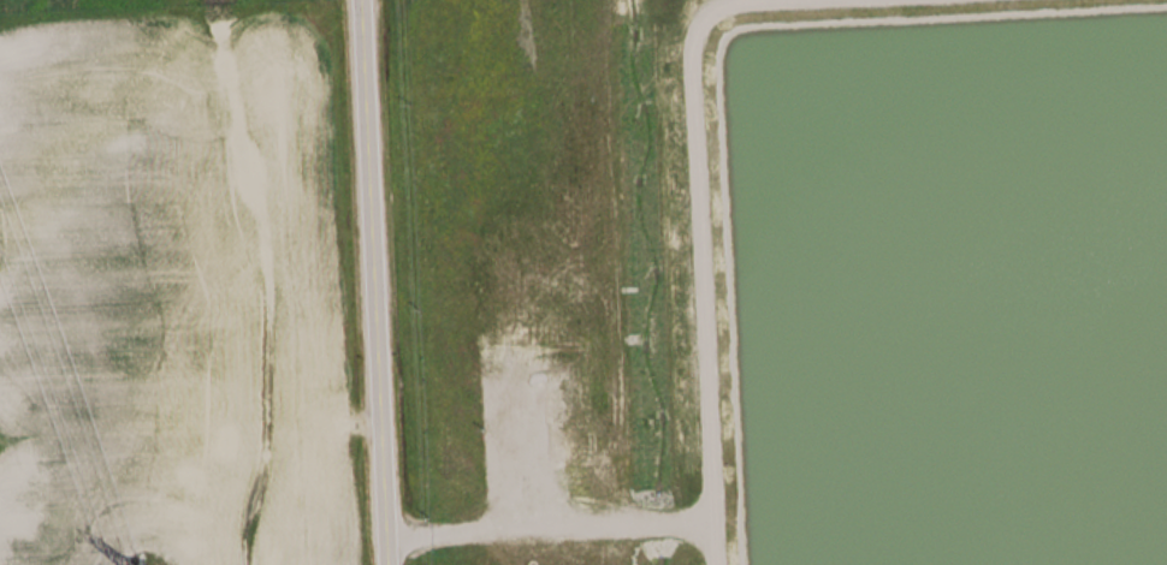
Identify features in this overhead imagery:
road: (377, 282)

